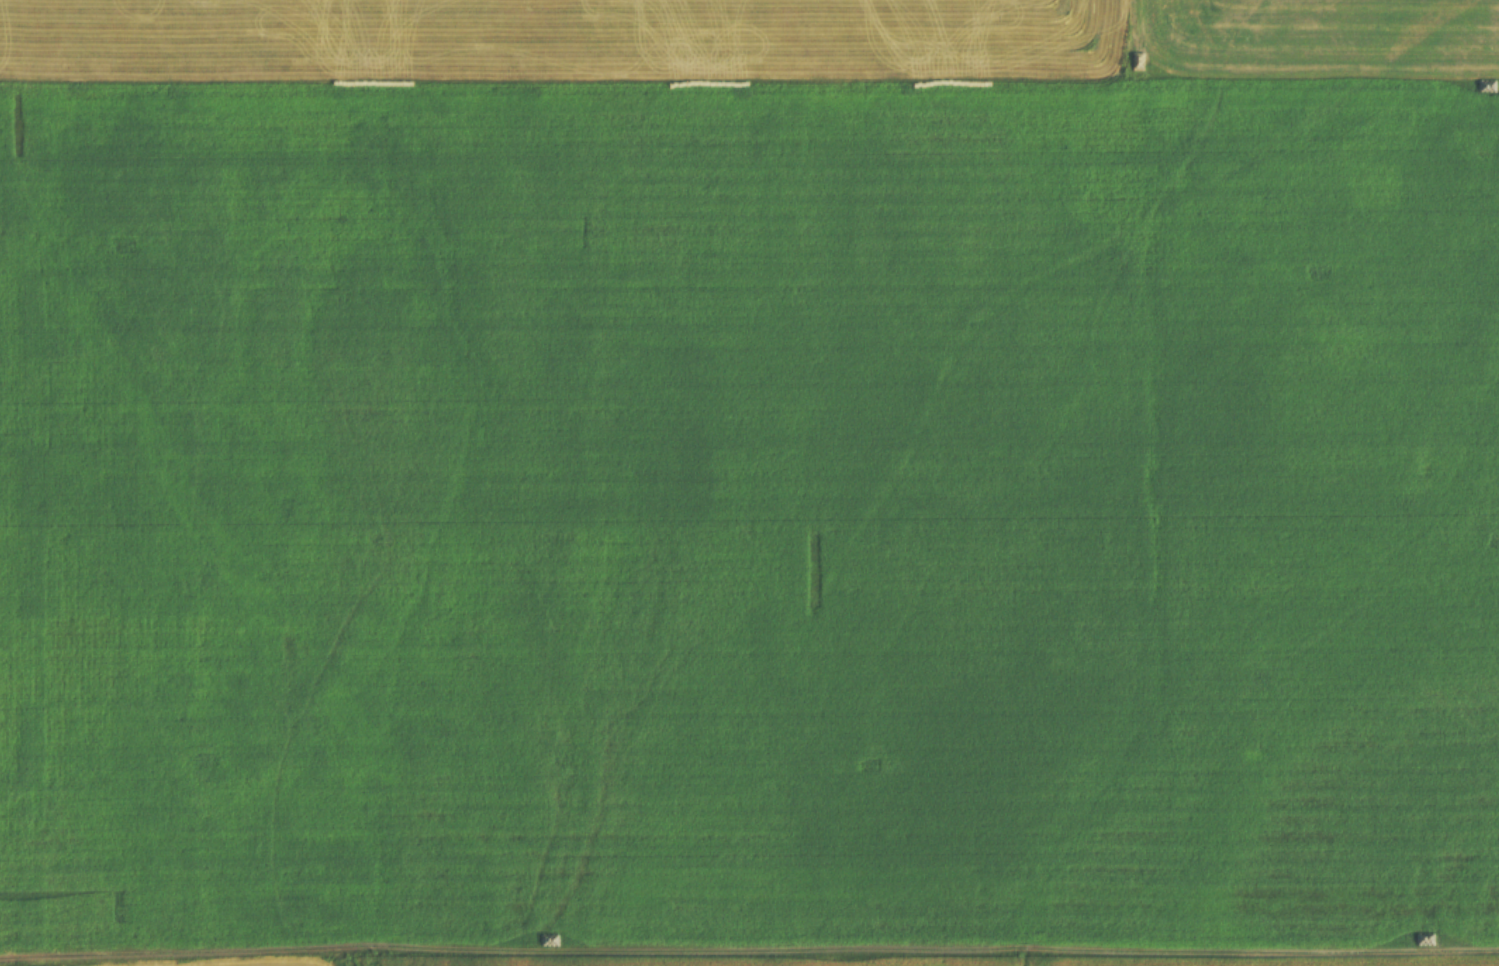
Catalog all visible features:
building: (213, 772)

